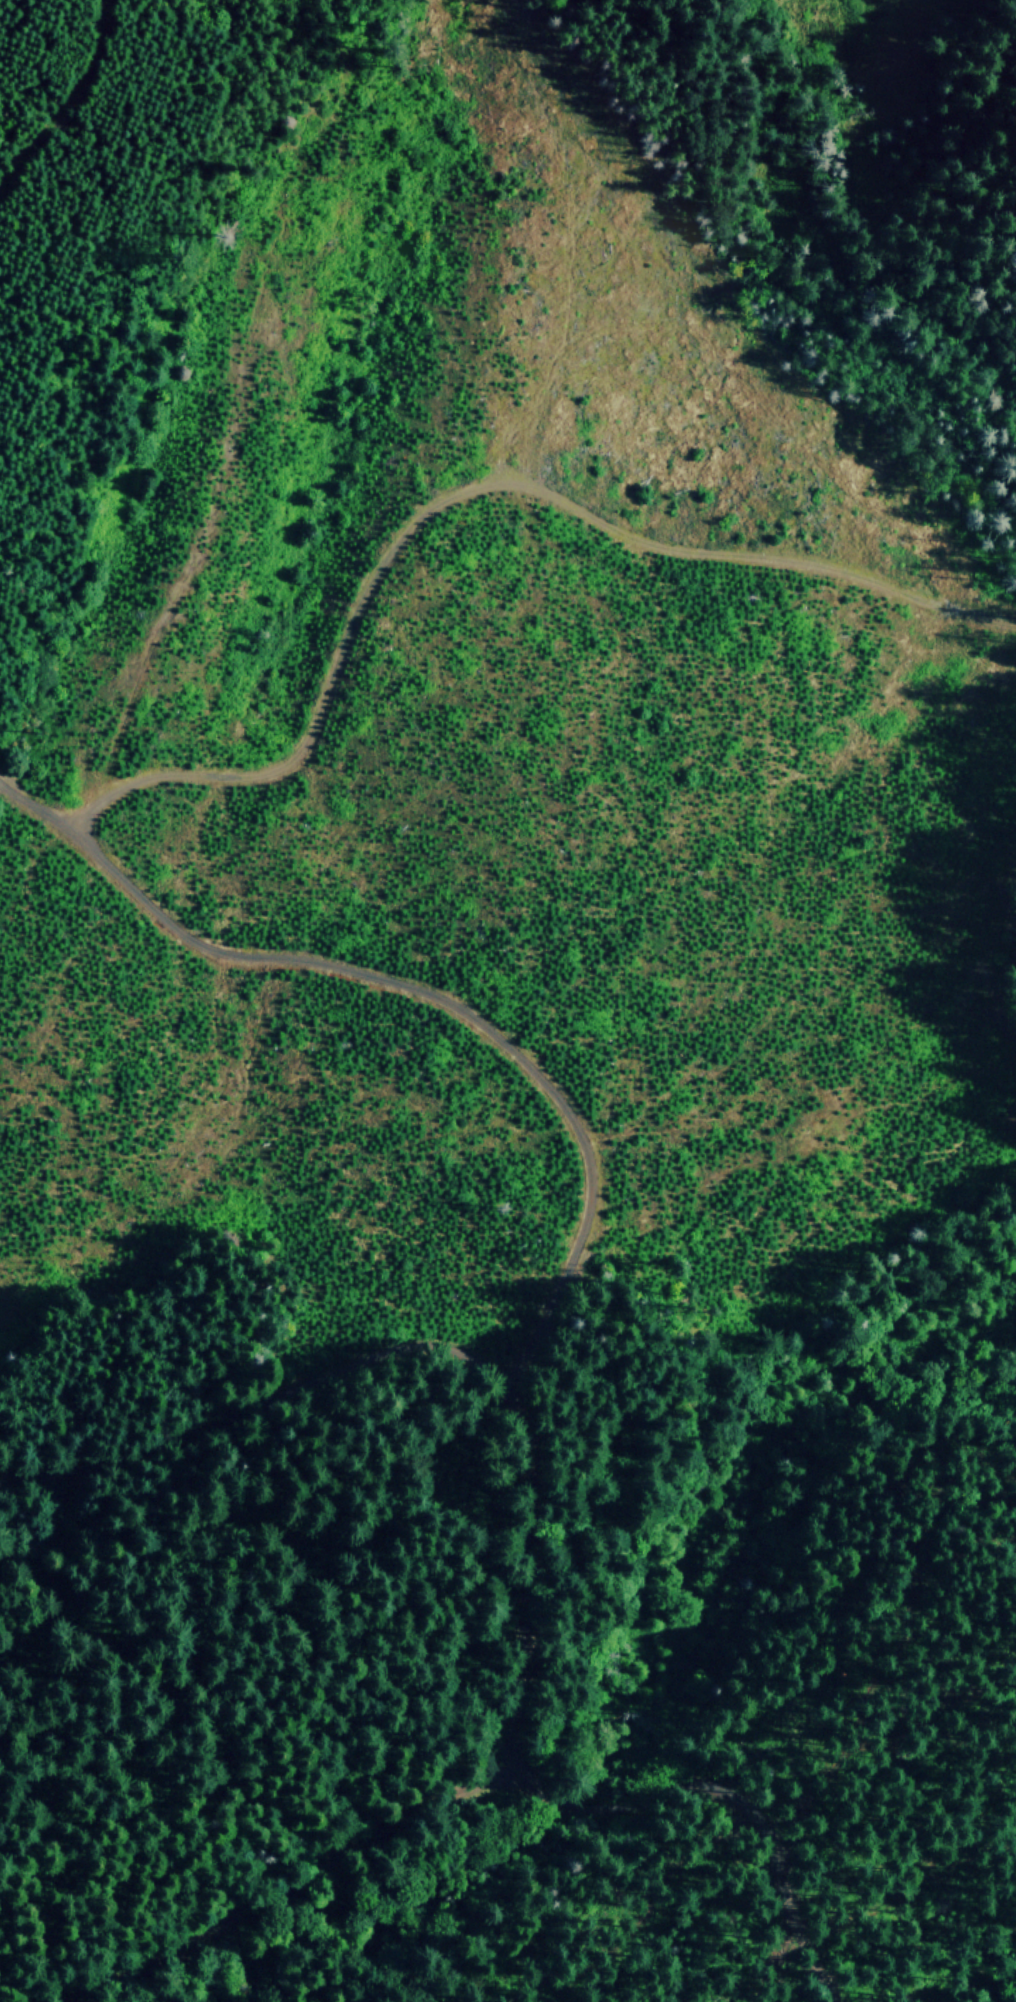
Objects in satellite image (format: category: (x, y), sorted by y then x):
road: (460, 493)
crop: (626, 581)
road: (404, 984)
road: (529, 1506)
road: (316, 1866)

